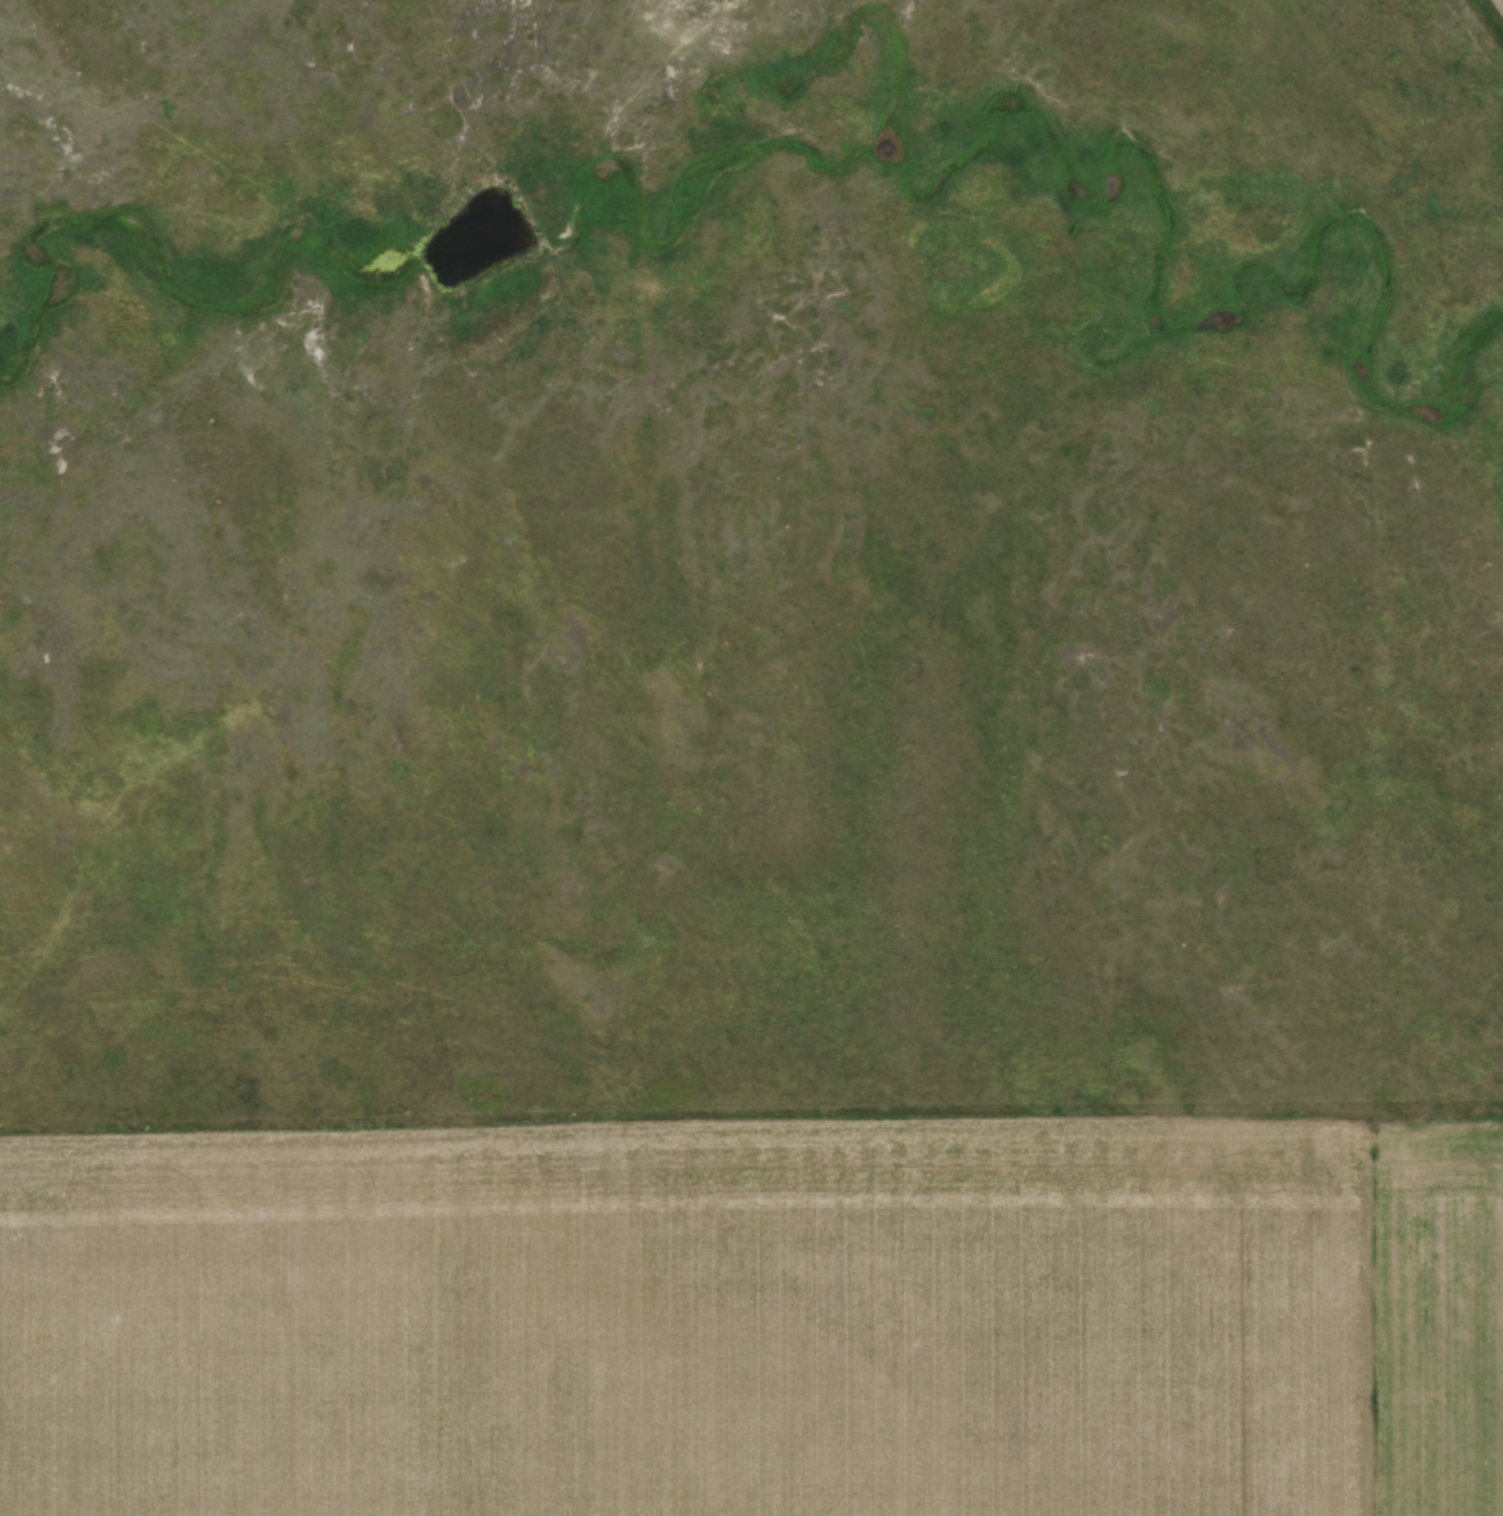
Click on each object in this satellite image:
road: (1500, 2)

